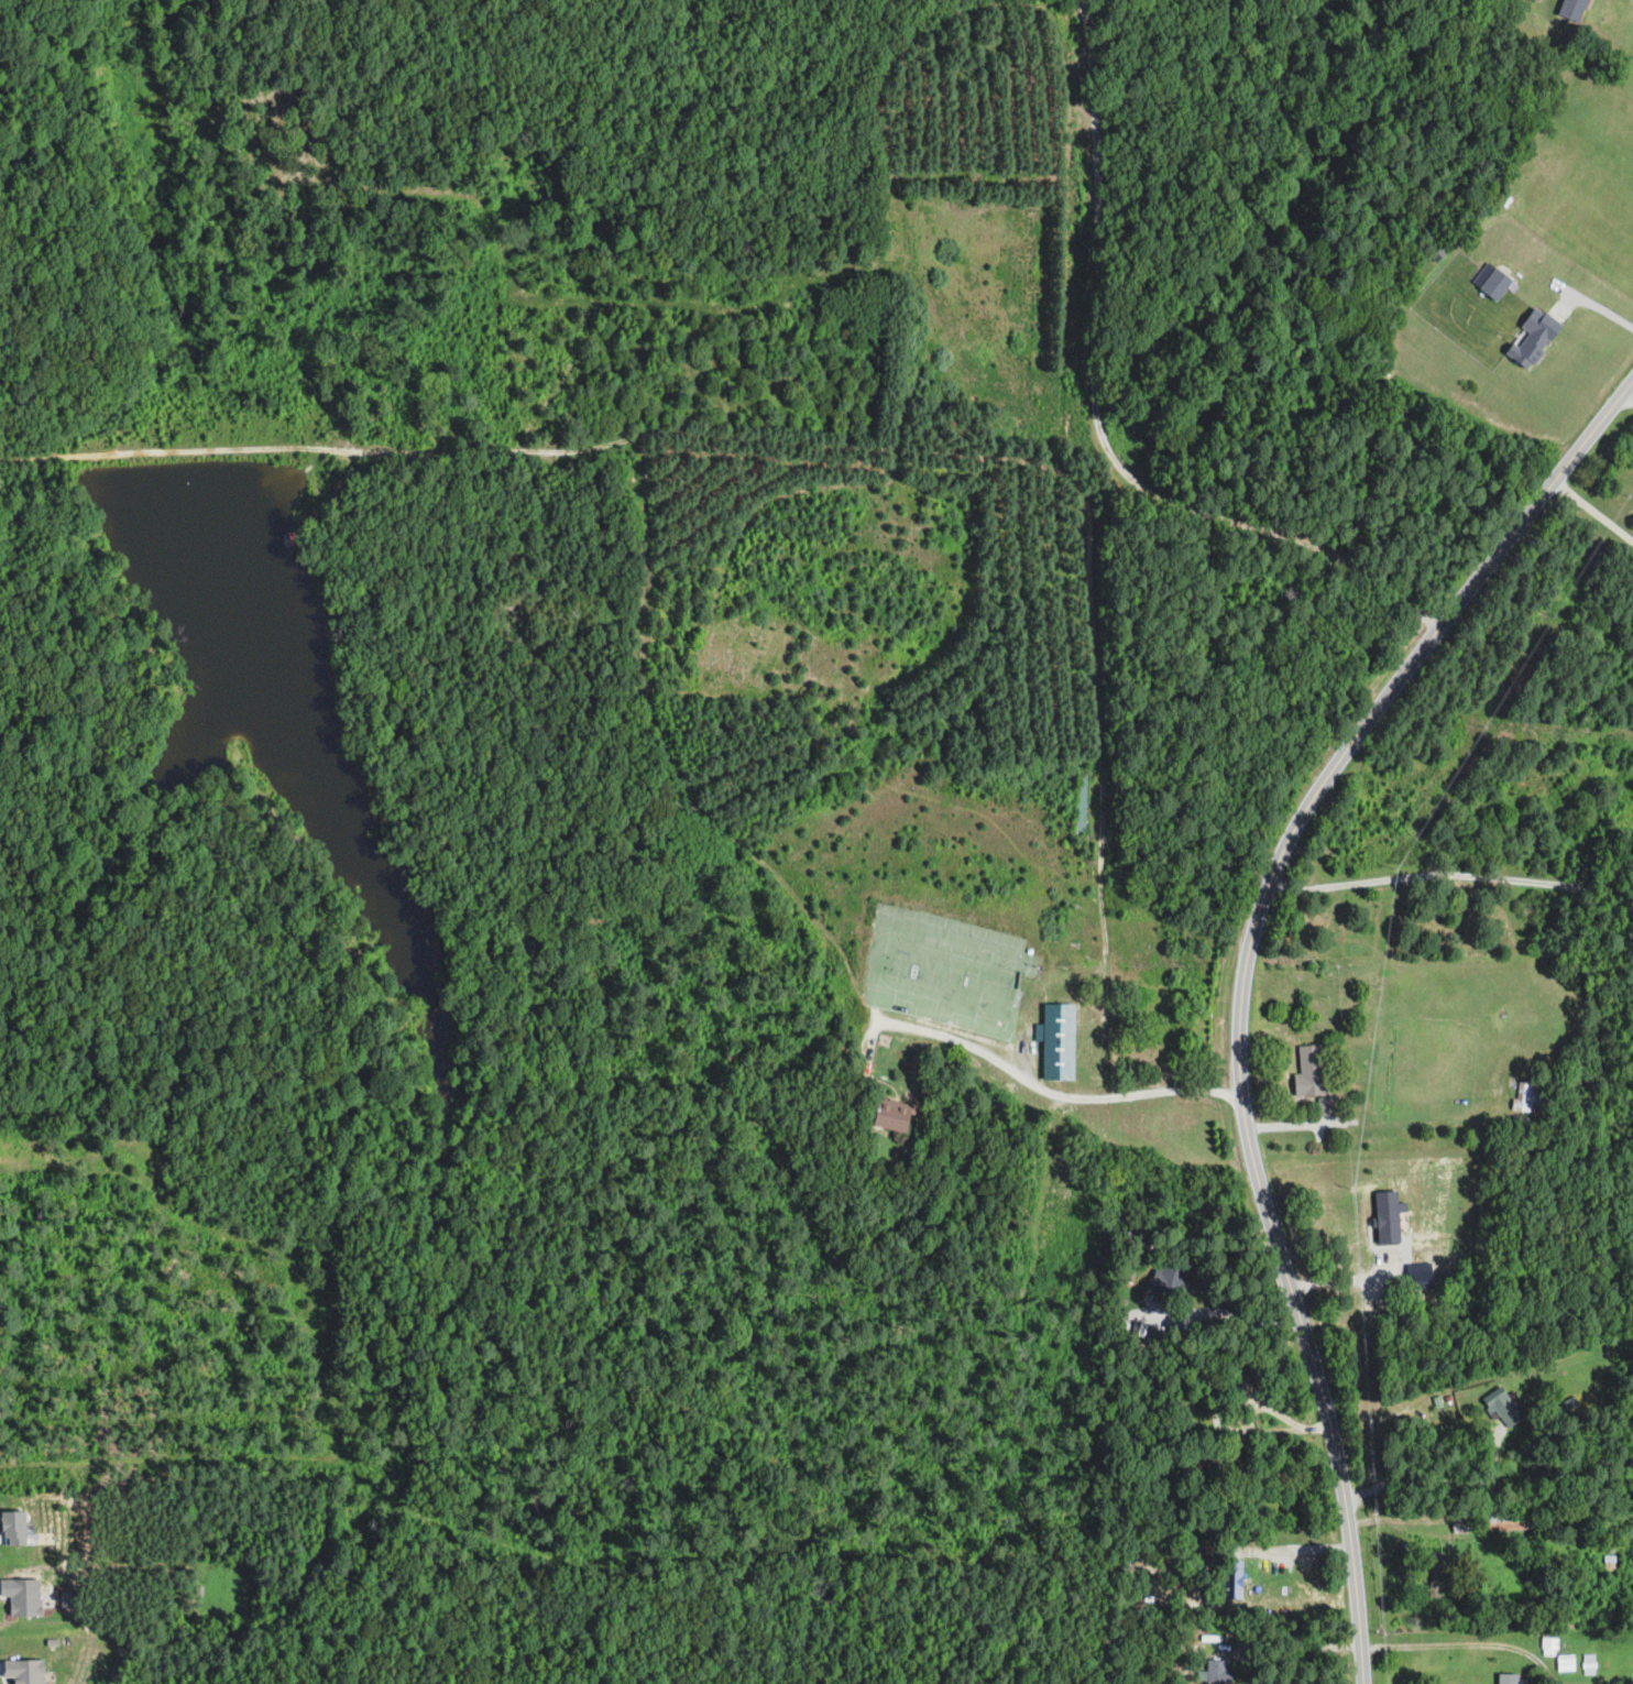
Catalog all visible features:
building: (1571, 9)
building: (1495, 283)
road: (1601, 310)
building: (1534, 337)
road: (1624, 403)
road: (1096, 417)
road: (960, 449)
road: (1592, 515)
building: (1081, 802)
road: (1448, 875)
road: (1243, 978)
building: (1057, 1040)
building: (1309, 1071)
road: (1050, 1095)
building: (1528, 1096)
building: (1327, 1106)
building: (895, 1115)
building: (1387, 1227)
building: (1168, 1281)
road: (1230, 1314)
building: (1248, 1382)
building: (1505, 1410)
road: (1221, 1425)
road: (1490, 1484)
building: (1506, 1521)
building: (1460, 1524)
building: (14, 1528)
road: (1304, 1550)
building: (1436, 1575)
building: (1234, 1579)
building: (23, 1596)
road: (1305, 1647)
road: (1444, 1652)
building: (1565, 1663)
building: (1588, 1663)
building: (25, 1671)
building: (1217, 1672)
building: (1512, 1680)

